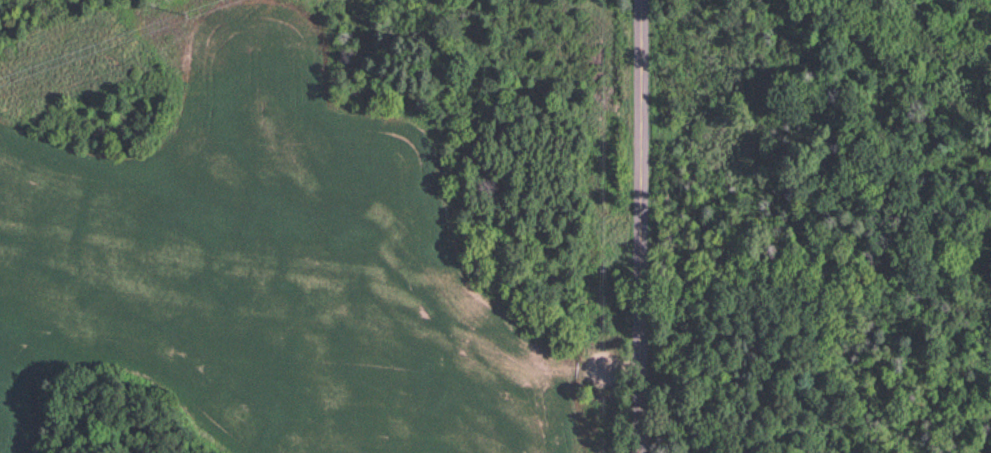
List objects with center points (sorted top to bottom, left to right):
road: (639, 226)

